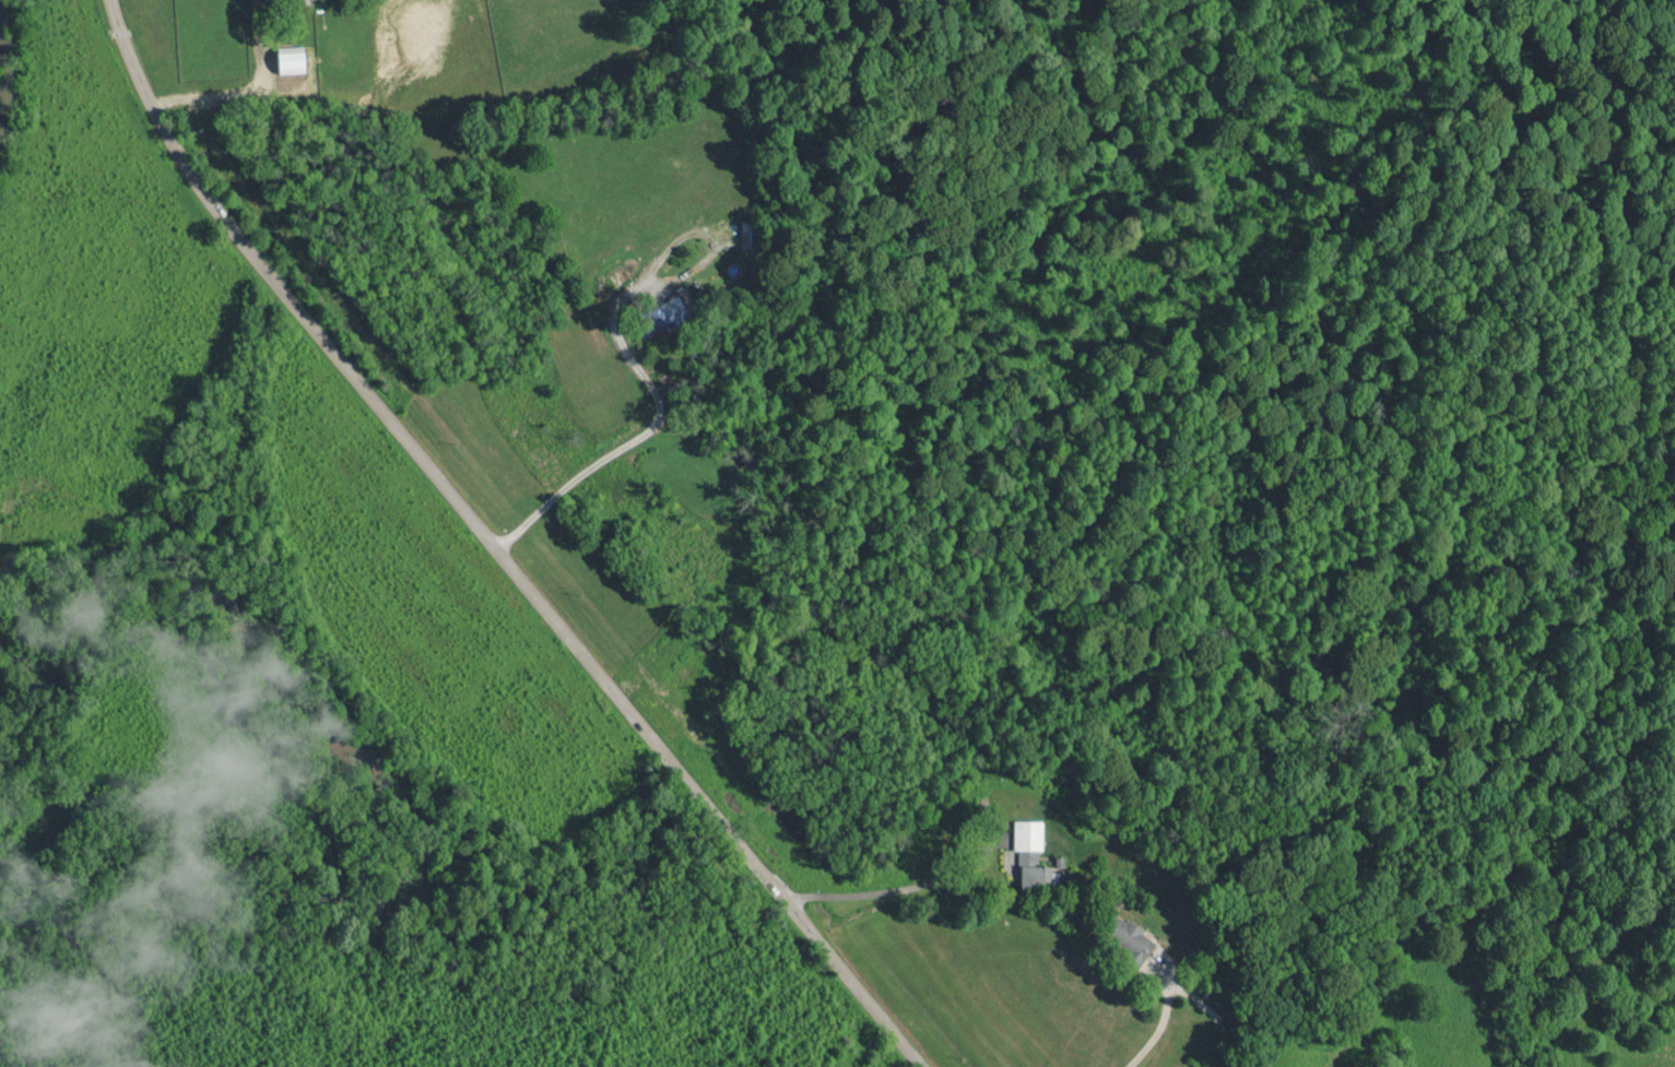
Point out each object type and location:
building: (293, 59)
road: (497, 547)
building: (1030, 853)
road: (890, 890)
building: (1131, 938)

